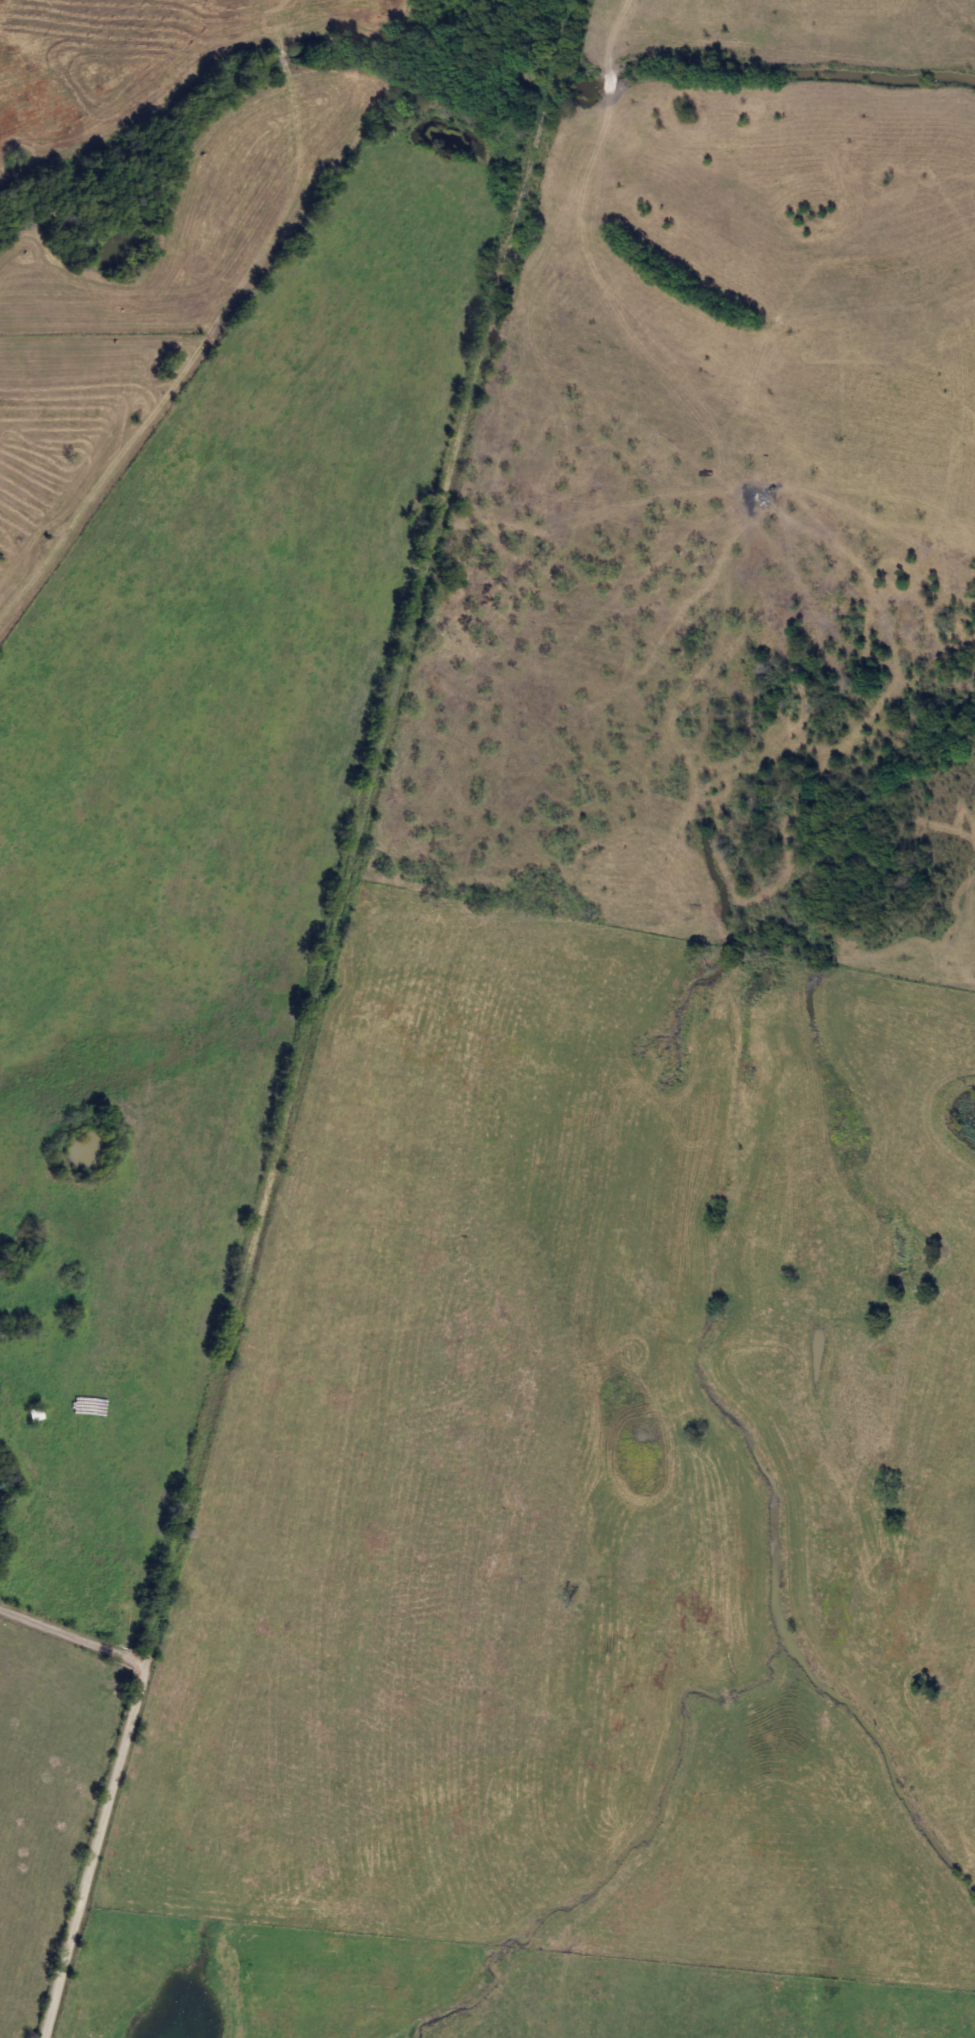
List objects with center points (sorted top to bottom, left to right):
road: (551, 79)
road: (518, 201)
road: (278, 1141)
building: (34, 1414)
road: (72, 1635)

